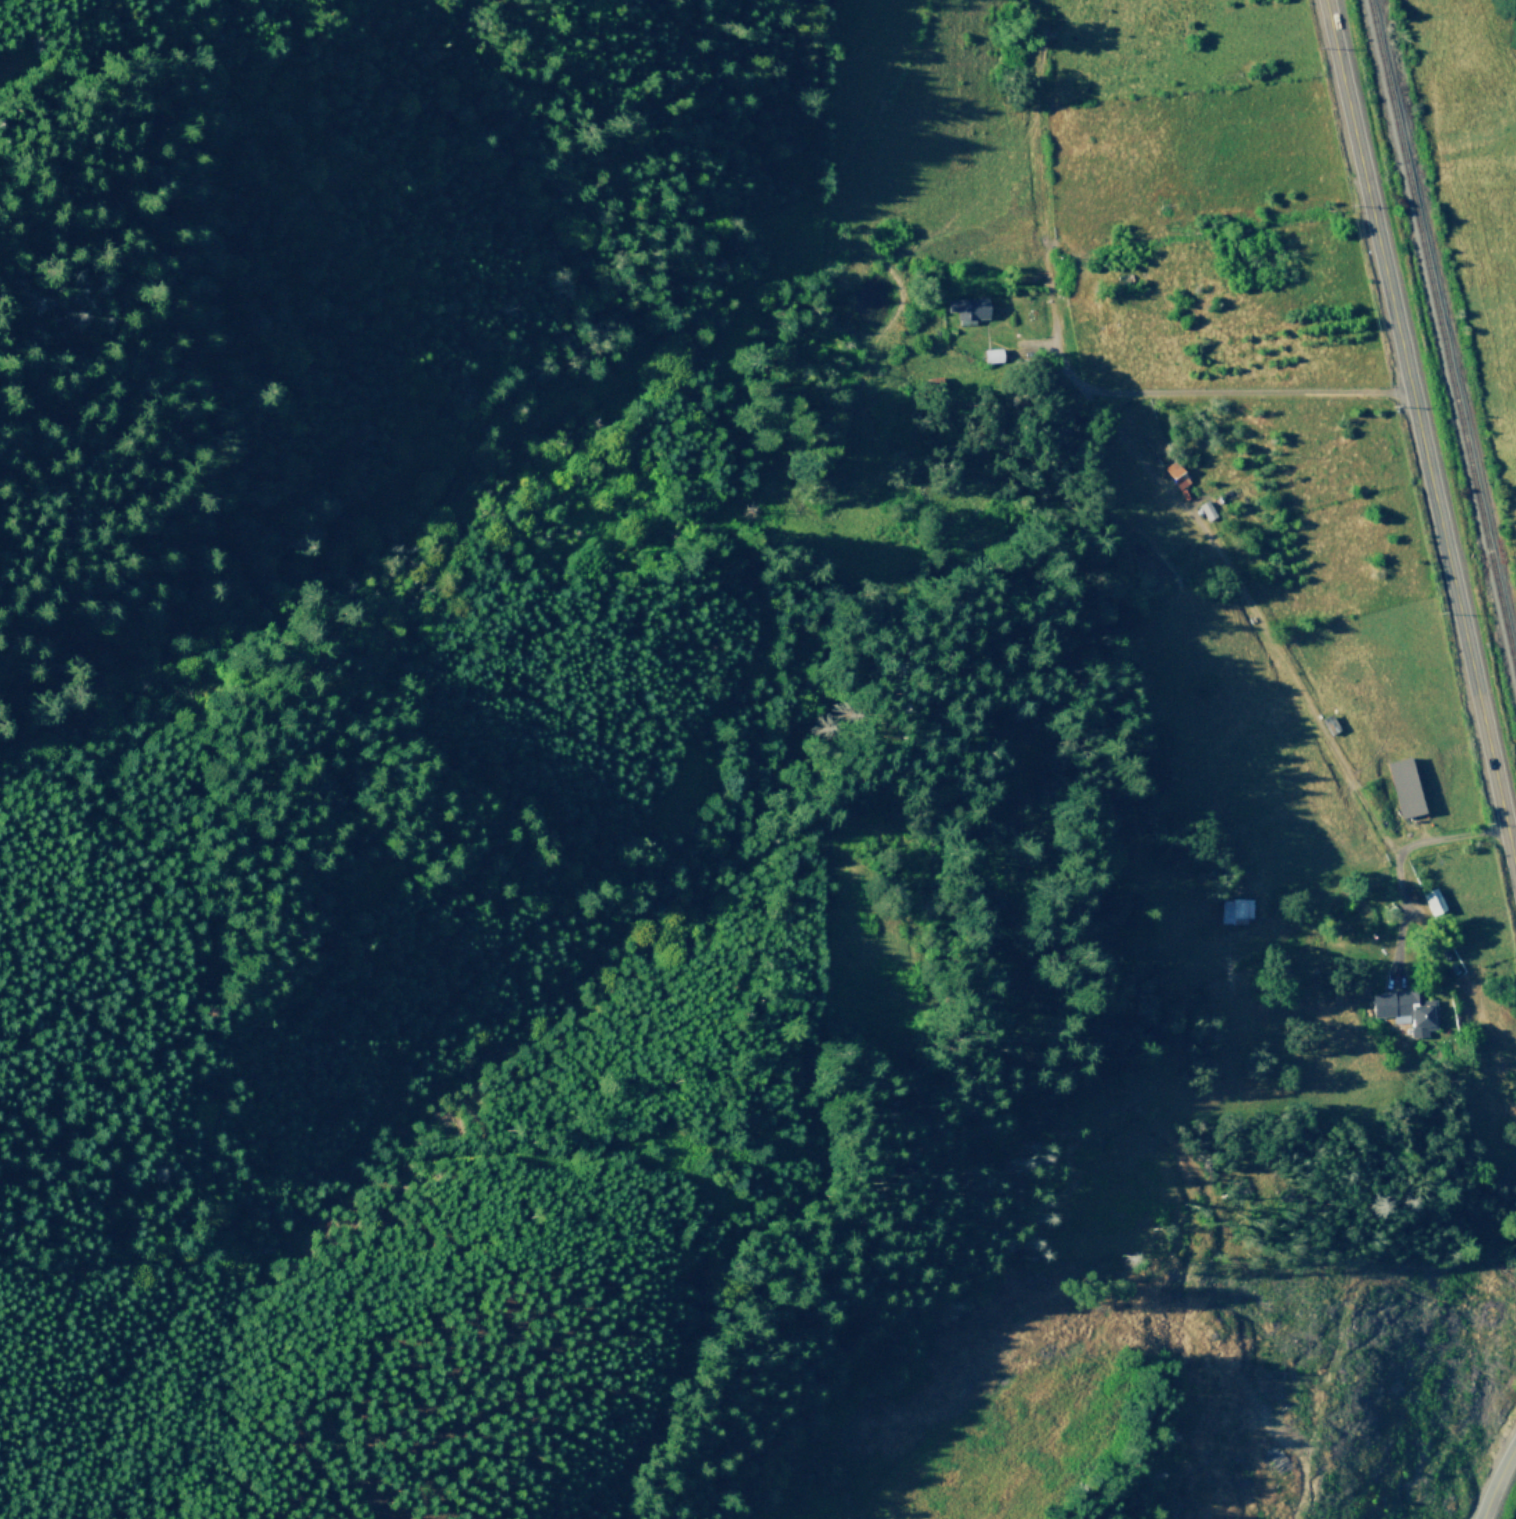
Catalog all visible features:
road: (15, 67)
railway: (1441, 335)
road: (1420, 429)
building: (1177, 476)
building: (1207, 511)
building: (1405, 787)
building: (1434, 902)
building: (1235, 911)
building: (1406, 1011)
road: (1493, 1478)

